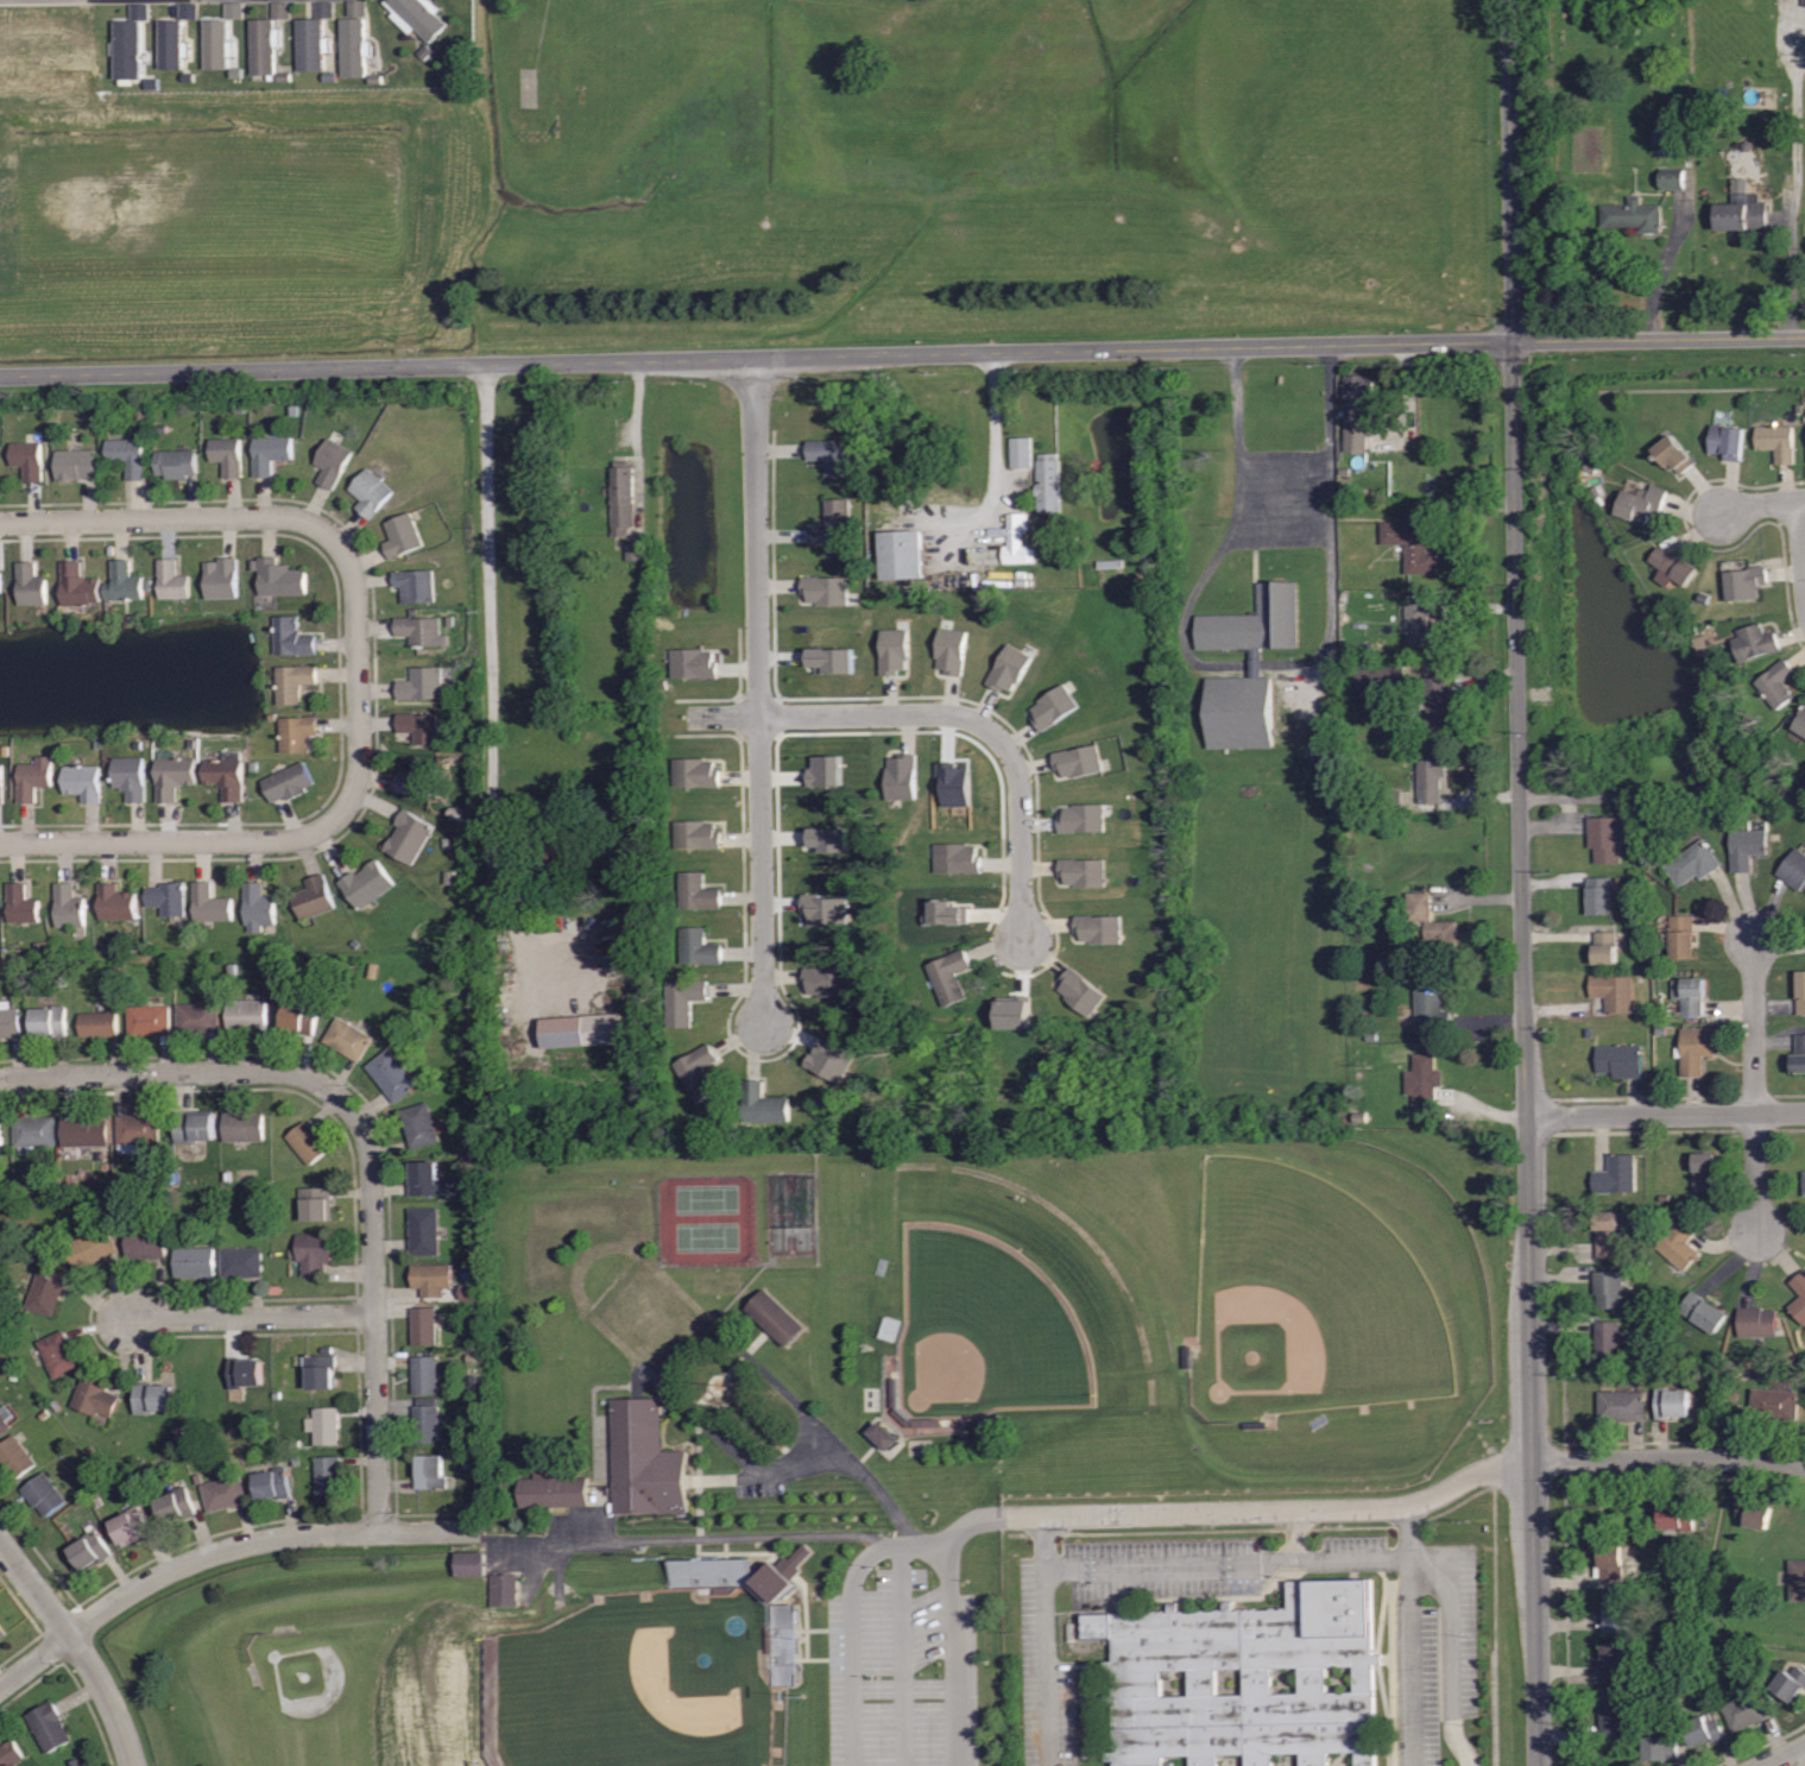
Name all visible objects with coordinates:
road: (204, 2)
road: (177, 6)
building: (190, 11)
building: (235, 11)
building: (284, 11)
building: (421, 17)
building: (316, 37)
building: (173, 44)
building: (220, 45)
building: (355, 48)
building: (266, 49)
building: (130, 50)
building: (1666, 137)
building: (1675, 179)
building: (1742, 212)
building: (1633, 214)
road: (1788, 264)
road: (1662, 270)
road: (902, 353)
building: (1357, 410)
building: (1727, 441)
building: (1776, 441)
building: (271, 453)
building: (1023, 453)
building: (1672, 453)
building: (228, 454)
building: (829, 455)
road: (996, 455)
building: (128, 456)
building: (29, 460)
building: (175, 462)
building: (330, 463)
building: (76, 465)
building: (1048, 481)
building: (367, 492)
building: (621, 497)
building: (1640, 503)
road: (1762, 503)
road: (259, 515)
building: (832, 524)
road: (1283, 525)
building: (403, 534)
road: (1801, 535)
building: (1413, 536)
building: (1018, 542)
building: (636, 550)
building: (905, 555)
building: (1672, 566)
building: (279, 576)
building: (222, 578)
building: (171, 579)
building: (0, 580)
building: (1744, 581)
building: (29, 582)
building: (122, 582)
building: (418, 584)
building: (74, 585)
building: (827, 589)
building: (1416, 624)
building: (422, 629)
building: (292, 637)
building: (1753, 642)
building: (895, 650)
building: (952, 650)
building: (833, 660)
building: (694, 662)
building: (1258, 662)
building: (1010, 667)
road: (487, 669)
building: (1386, 677)
building: (294, 681)
building: (1776, 681)
building: (422, 682)
road: (763, 692)
building: (1437, 704)
building: (1055, 705)
road: (955, 714)
building: (1800, 721)
building: (418, 725)
building: (296, 731)
building: (1079, 758)
building: (826, 770)
building: (698, 771)
building: (175, 774)
building: (128, 775)
building: (226, 775)
building: (903, 776)
building: (1431, 776)
building: (33, 778)
building: (81, 780)
building: (288, 780)
building: (417, 780)
building: (1, 783)
building: (959, 786)
building: (1084, 816)
building: (699, 833)
building: (408, 835)
building: (1607, 837)
road: (228, 839)
building: (828, 840)
building: (1746, 847)
building: (958, 857)
building: (553, 862)
building: (1691, 863)
building: (1794, 869)
building: (1085, 871)
building: (366, 882)
road: (1521, 882)
building: (698, 890)
building: (1598, 895)
building: (165, 896)
building: (311, 897)
building: (21, 902)
building: (115, 902)
building: (209, 903)
building: (69, 906)
building: (255, 906)
building: (826, 910)
building: (947, 913)
building: (1433, 923)
building: (1100, 927)
building: (1681, 936)
building: (696, 946)
building: (1604, 947)
building: (948, 975)
building: (828, 980)
building: (1084, 990)
building: (1612, 991)
building: (1800, 991)
building: (1689, 995)
building: (681, 999)
building: (1431, 1007)
building: (246, 1013)
building: (1015, 1014)
building: (197, 1016)
building: (299, 1016)
building: (10, 1020)
building: (146, 1020)
building: (46, 1021)
building: (97, 1023)
road: (1754, 1024)
building: (583, 1032)
building: (348, 1037)
building: (1694, 1049)
building: (1799, 1053)
building: (828, 1057)
building: (1620, 1059)
building: (698, 1071)
building: (391, 1074)
road: (170, 1076)
building: (1424, 1079)
building: (763, 1103)
road: (1665, 1115)
building: (421, 1124)
building: (194, 1125)
building: (244, 1125)
building: (34, 1130)
building: (86, 1131)
building: (134, 1131)
building: (1, 1139)
building: (307, 1142)
building: (1703, 1171)
road: (1756, 1172)
building: (1616, 1174)
building: (427, 1179)
building: (1804, 1182)
park: (711, 1199)
building: (316, 1201)
building: (424, 1231)
building: (1605, 1234)
park: (712, 1237)
building: (145, 1242)
building: (1679, 1243)
building: (90, 1248)
building: (313, 1251)
building: (240, 1261)
building: (191, 1262)
building: (430, 1278)
building: (1608, 1288)
building: (45, 1289)
building: (471, 1293)
building: (1799, 1297)
park: (1311, 1299)
road: (373, 1310)
building: (1703, 1312)
building: (775, 1316)
road: (251, 1317)
building: (1756, 1322)
building: (424, 1325)
park: (990, 1329)
building: (1607, 1338)
building: (57, 1354)
building: (321, 1369)
building: (244, 1371)
building: (424, 1374)
building: (94, 1396)
building: (152, 1396)
building: (894, 1399)
building: (1672, 1401)
building: (1774, 1404)
building: (1621, 1405)
building: (4, 1418)
building: (425, 1419)
building: (323, 1424)
building: (886, 1437)
building: (15, 1456)
road: (1666, 1458)
building: (642, 1459)
road: (795, 1461)
building: (429, 1470)
building: (326, 1474)
building: (271, 1482)
building: (550, 1489)
building: (222, 1493)
building: (44, 1494)
building: (175, 1503)
road: (1269, 1509)
building: (1755, 1512)
building: (1677, 1514)
road: (690, 1521)
road: (973, 1524)
building: (130, 1525)
road: (1295, 1533)
road: (894, 1545)
building: (89, 1549)
road: (221, 1551)
road: (1227, 1559)
building: (1609, 1560)
building: (472, 1565)
building: (709, 1572)
building: (785, 1573)
building: (1798, 1579)
building: (504, 1587)
building: (1617, 1610)
building: (2, 1632)
road: (1452, 1641)
building: (783, 1644)
road: (76, 1650)
road: (951, 1651)
road: (901, 1655)
building: (1616, 1659)
road: (1409, 1661)
road: (1048, 1664)
road: (853, 1671)
building: (1245, 1680)
building: (1790, 1683)
park: (635, 1684)
park: (354, 1692)
building: (1746, 1710)
building: (1611, 1711)
building: (50, 1726)
building: (1704, 1727)
building: (1660, 1747)
building: (12, 1753)
road: (1468, 1755)
road: (1780, 1755)

